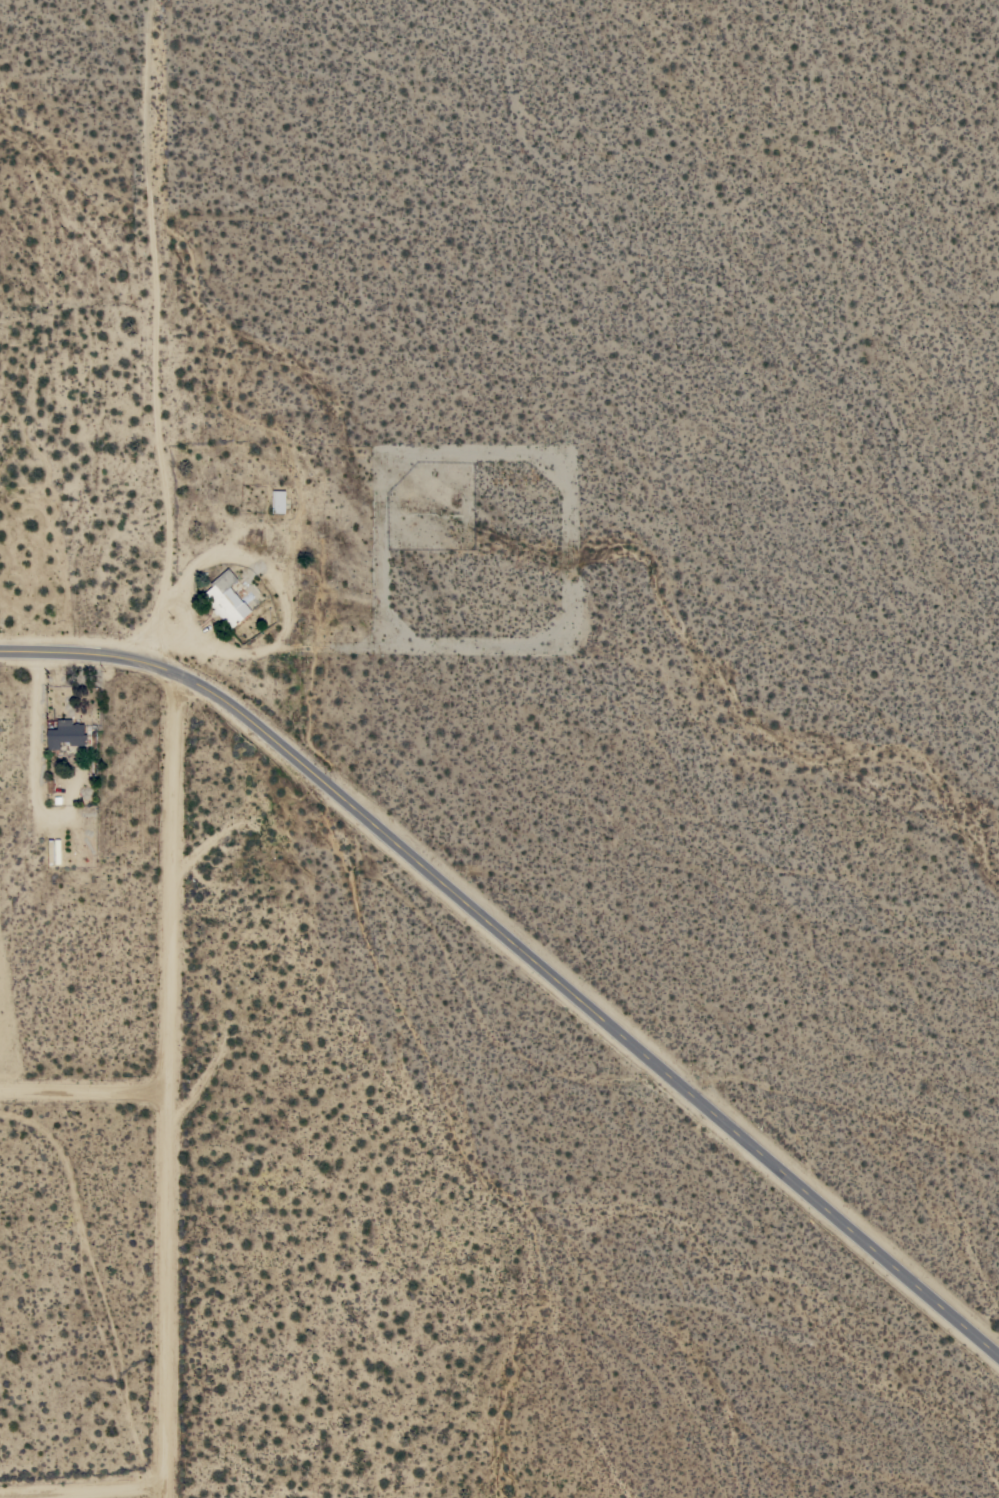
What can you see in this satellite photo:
road: (157, 336)
building: (279, 501)
building: (226, 599)
road: (87, 658)
road: (35, 722)
building: (66, 734)
road: (589, 1013)
road: (167, 1088)
road: (83, 1094)
road: (120, 1496)

